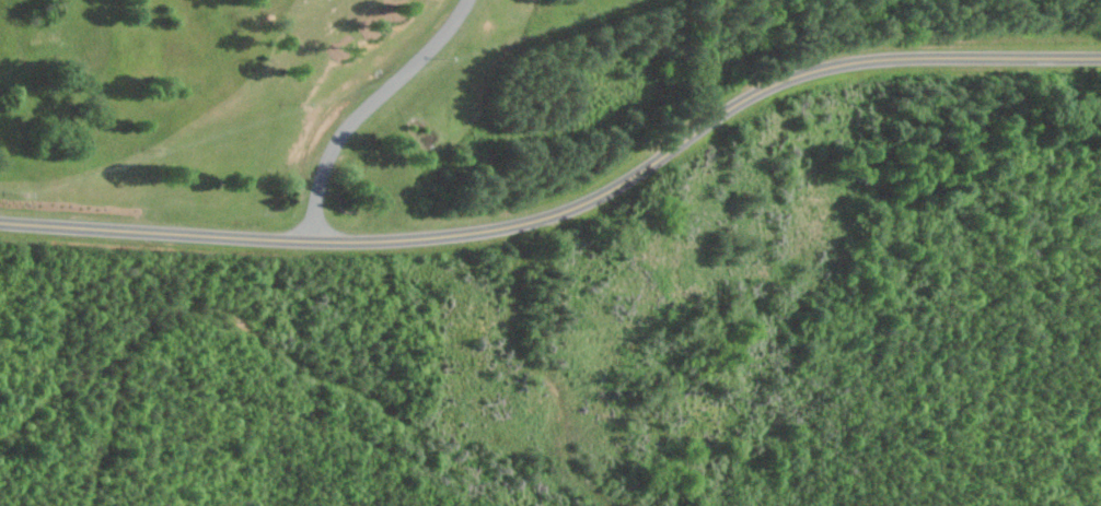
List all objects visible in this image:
road: (366, 103)
road: (570, 213)
road: (8, 456)

